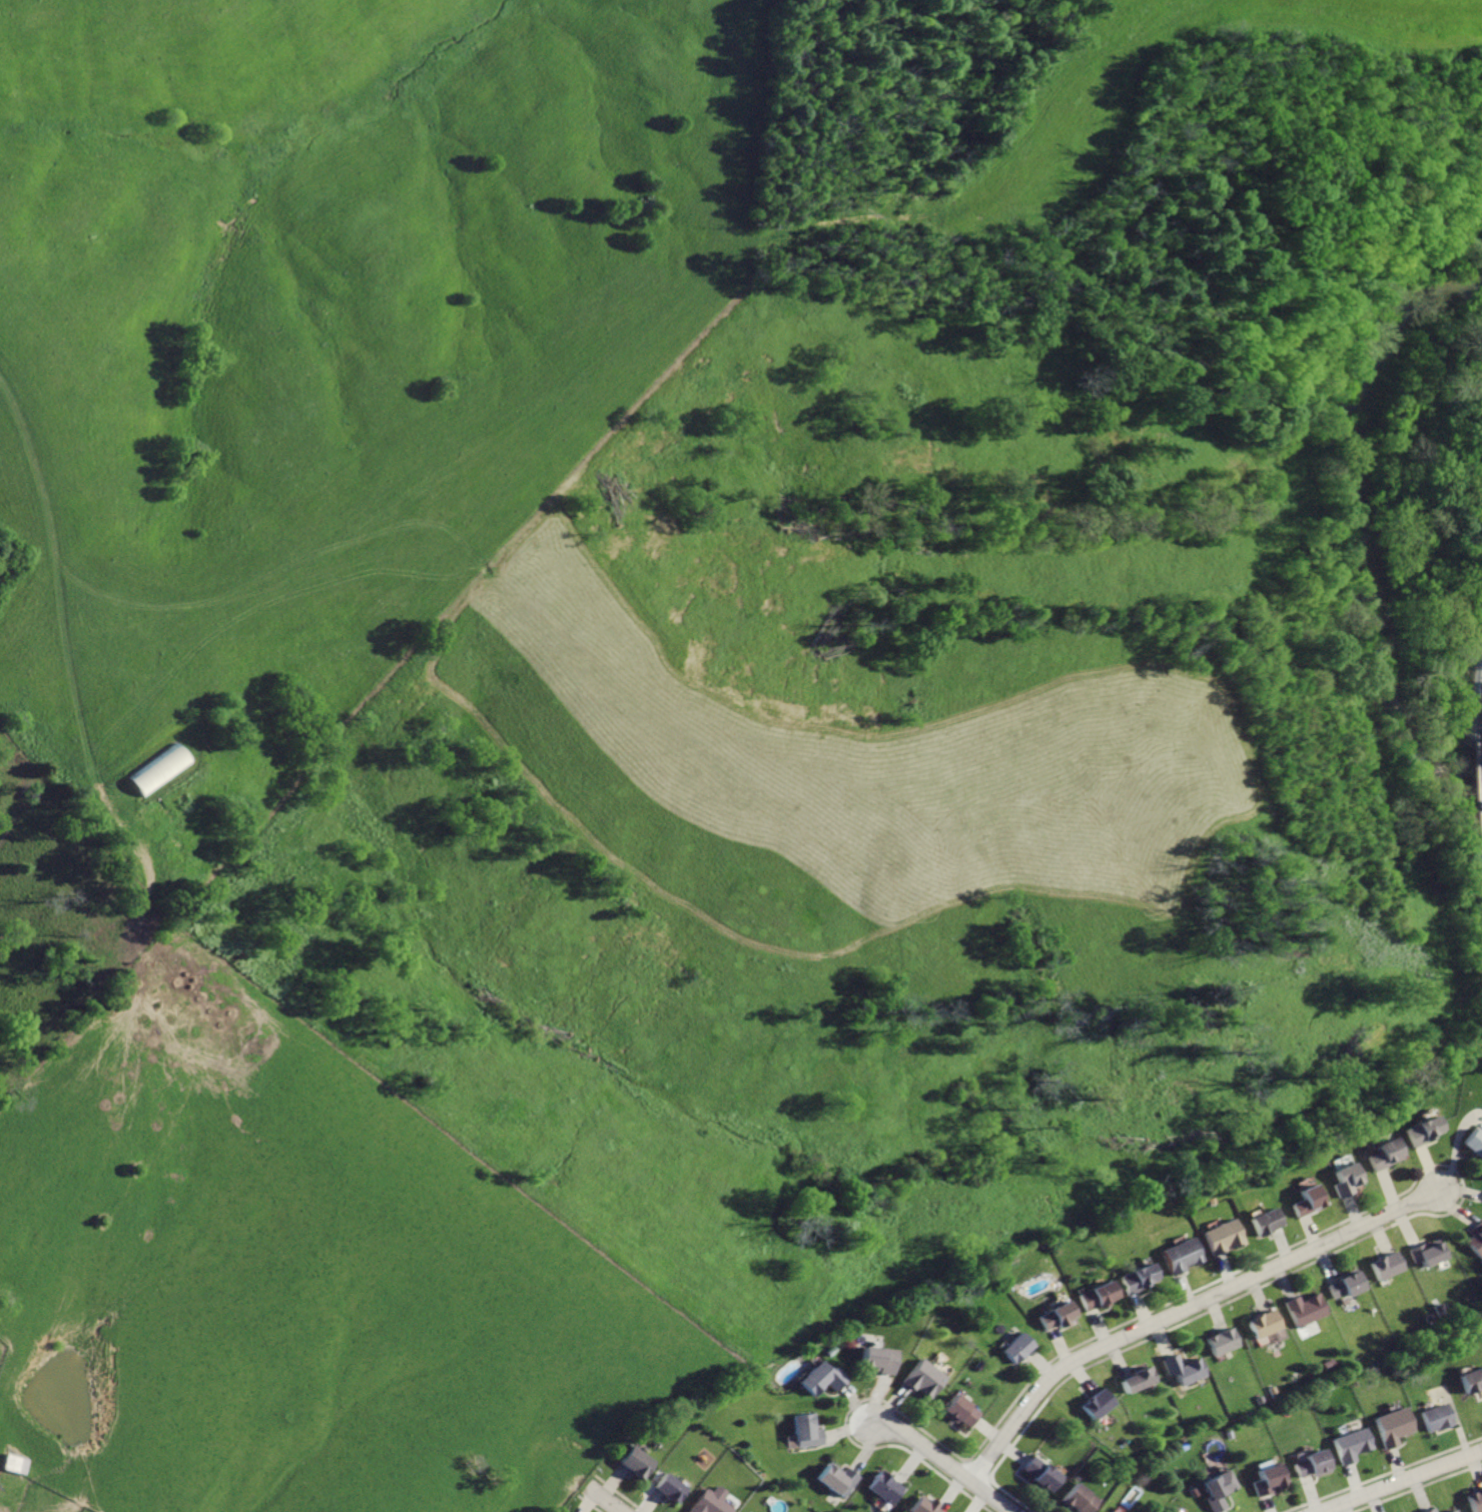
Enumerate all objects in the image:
crop: (1053, 104)
road: (58, 623)
railway: (1479, 709)
crop: (594, 762)
building: (159, 768)
railway: (1477, 791)
building: (1421, 1130)
building: (1473, 1143)
building: (1384, 1155)
building: (1344, 1180)
building: (1304, 1202)
building: (1260, 1222)
building: (1217, 1236)
building: (1474, 1243)
building: (1426, 1253)
building: (1174, 1255)
building: (1386, 1265)
building: (1133, 1279)
building: (1345, 1286)
building: (1092, 1295)
road: (1181, 1308)
building: (1302, 1309)
building: (1050, 1316)
building: (1261, 1323)
building: (1219, 1342)
building: (1012, 1348)
building: (874, 1360)
building: (1177, 1369)
building: (820, 1378)
building: (918, 1379)
building: (1133, 1380)
building: (1470, 1380)
building: (1094, 1404)
building: (957, 1412)
building: (1432, 1417)
building: (1389, 1427)
building: (806, 1430)
building: (1347, 1446)
building: (637, 1461)
road: (941, 1462)
building: (16, 1463)
building: (1307, 1465)
building: (1039, 1474)
building: (838, 1479)
building: (1262, 1479)
road: (1399, 1481)
building: (672, 1487)
building: (884, 1488)
building: (1213, 1491)
building: (1474, 1499)
building: (1076, 1500)
road: (610, 1501)
building: (711, 1504)
building: (921, 1504)
building: (1429, 1510)
building: (1109, 1511)
building: (1449, 1511)

